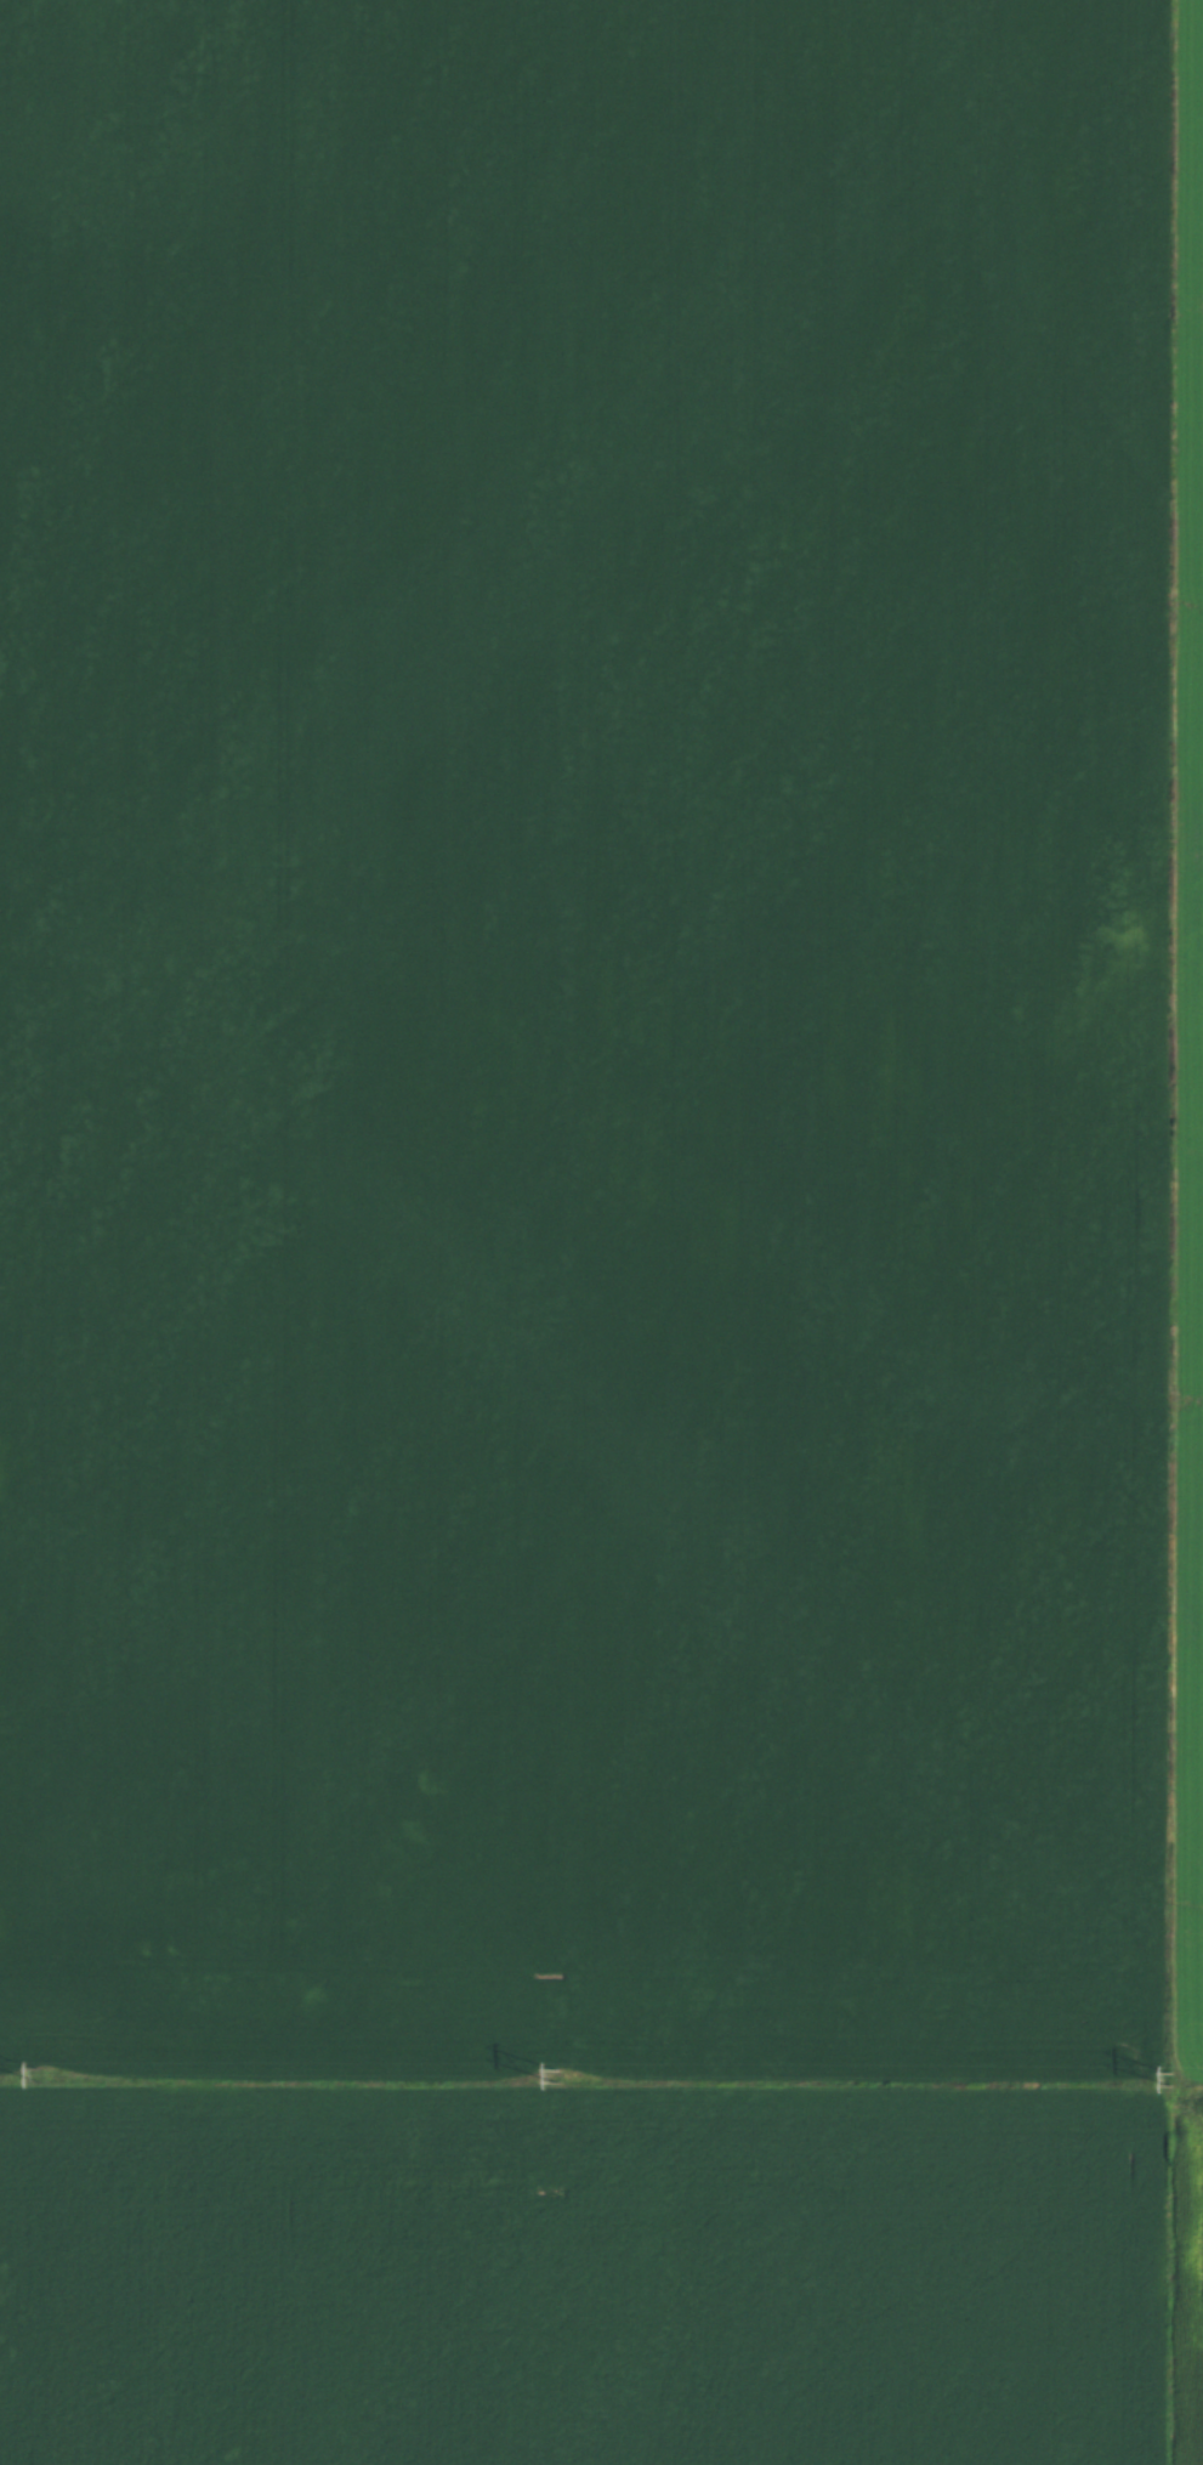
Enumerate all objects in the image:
power tower: (561, 2080)
power tower: (40, 2081)
power tower: (1171, 2087)

